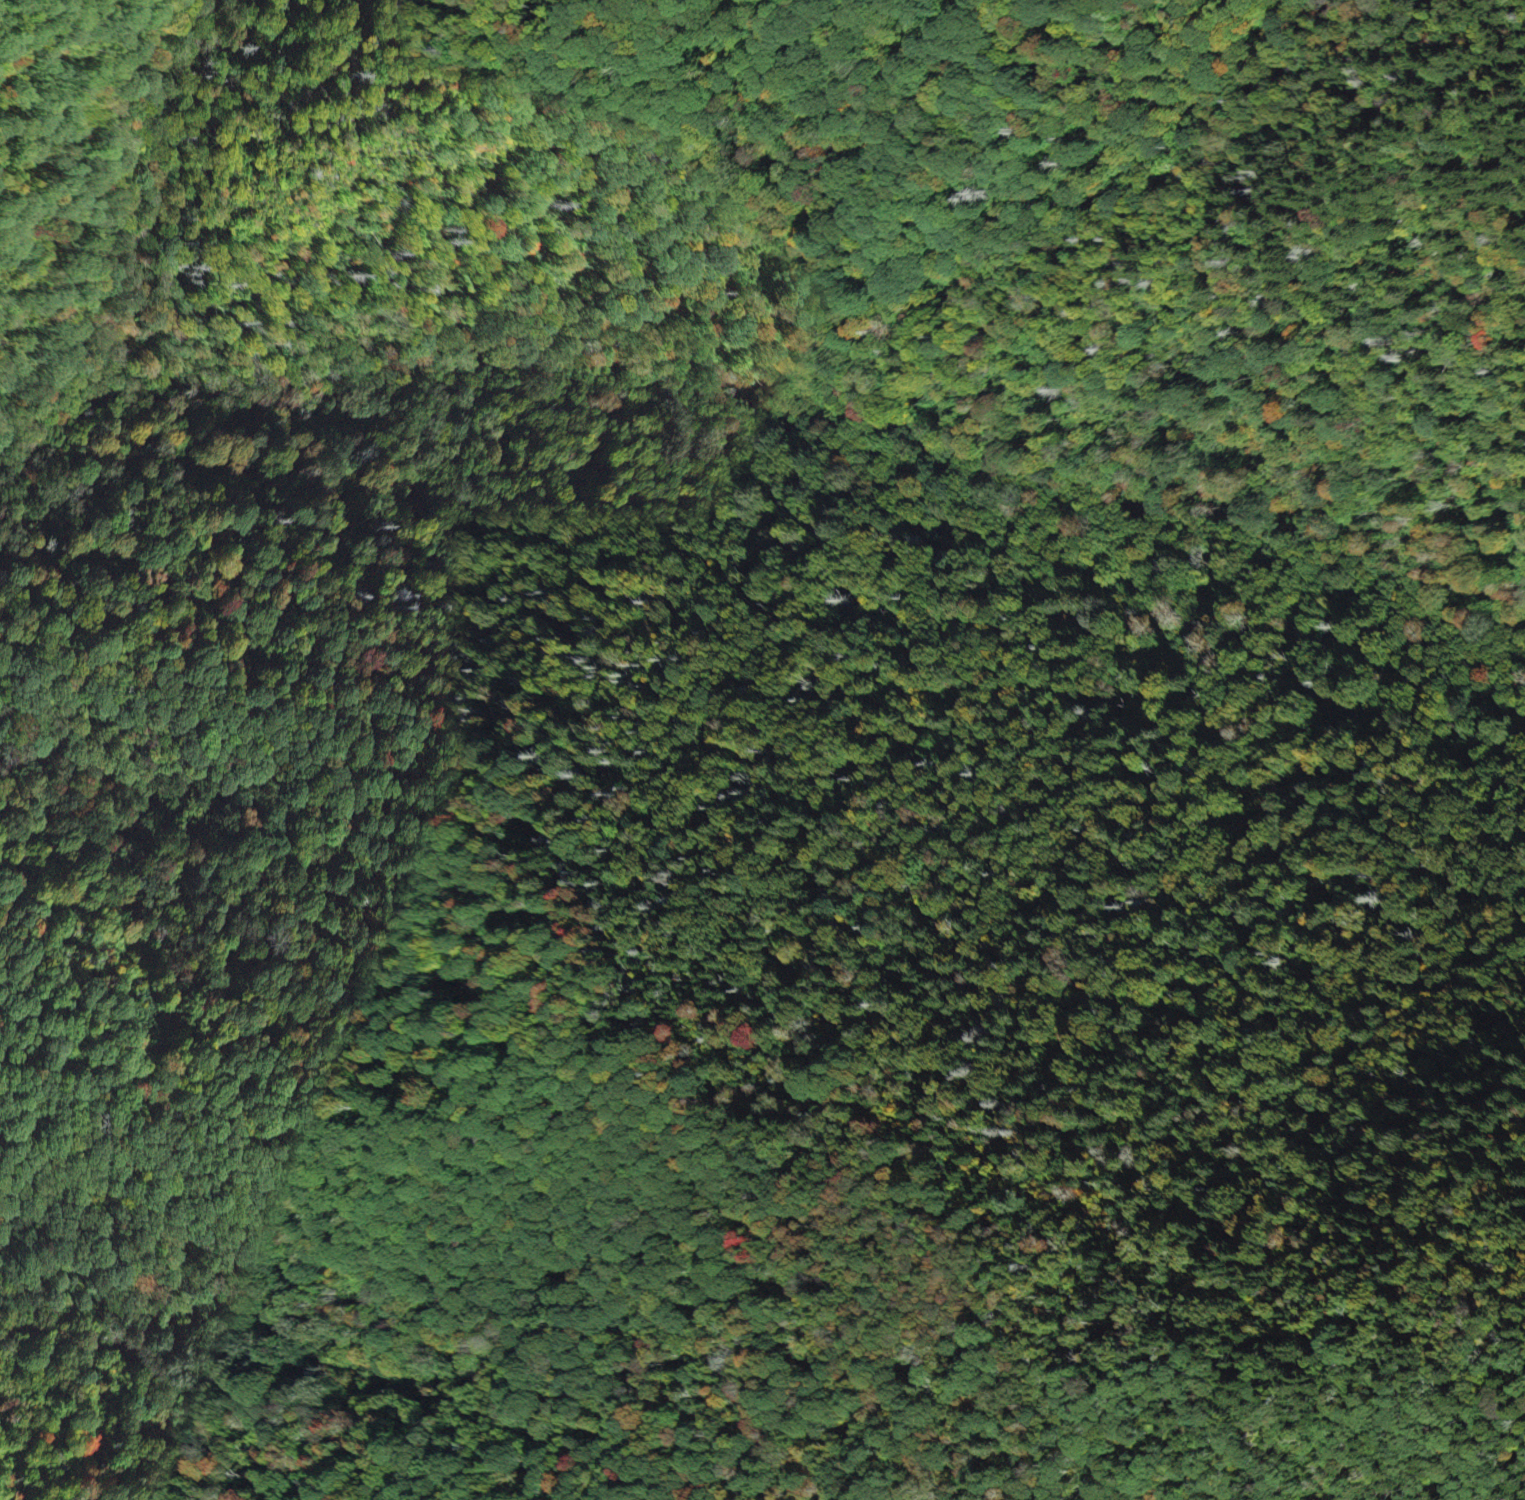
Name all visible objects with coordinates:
road: (1464, 83)
road: (1154, 1226)

